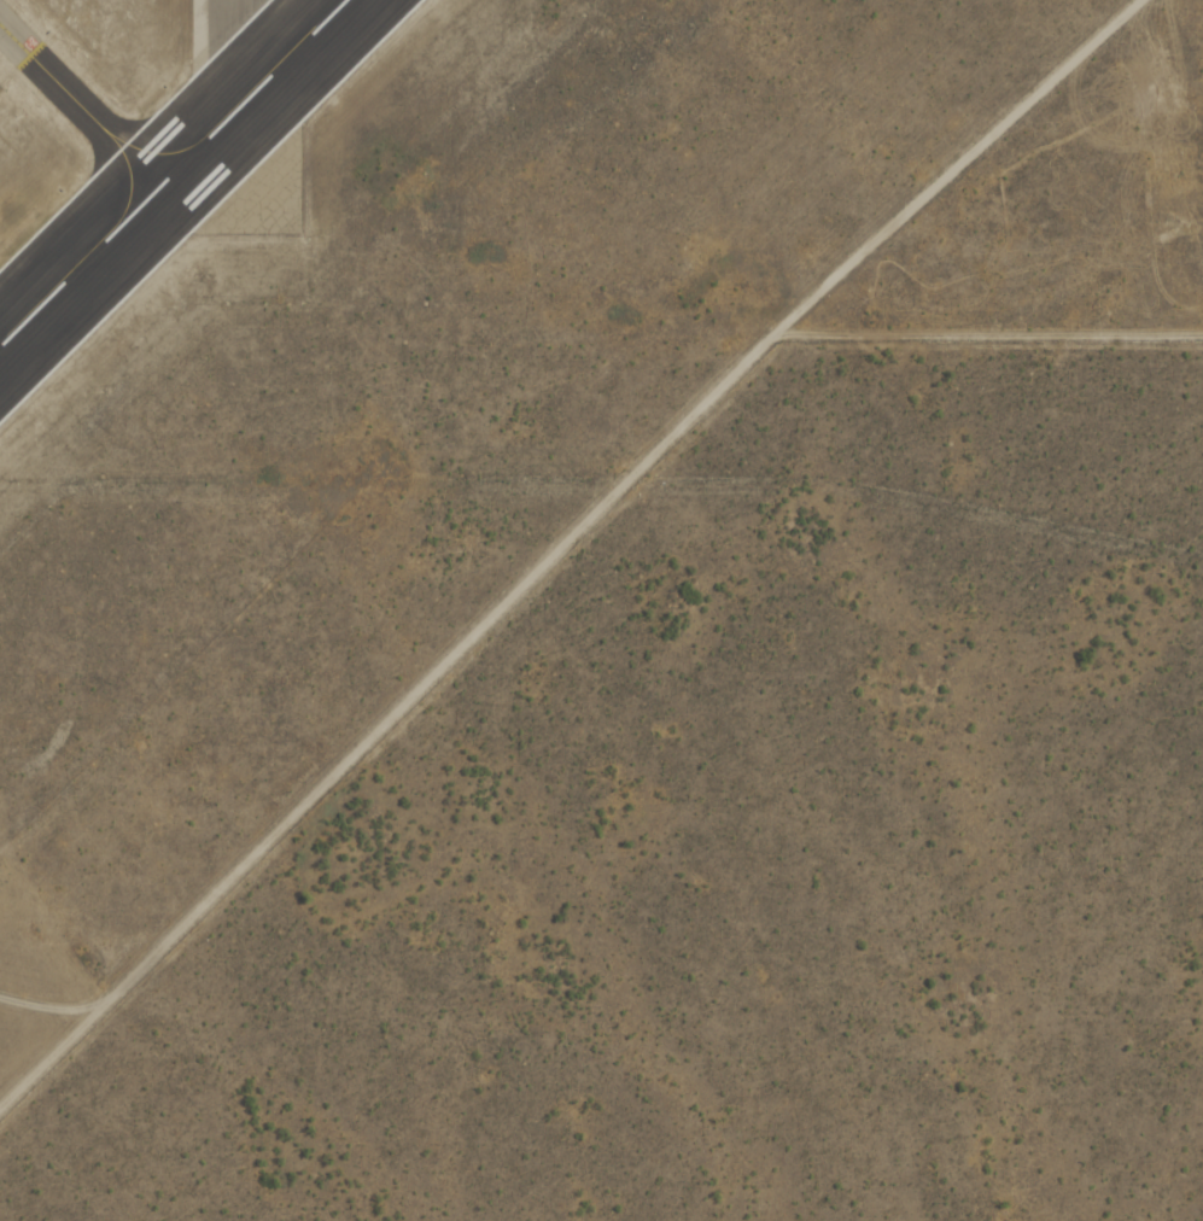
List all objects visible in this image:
airport taxiway: (78, 105)
airport runway: (249, 117)
airport runway: (171, 173)
airport: (455, 355)
road: (561, 545)

